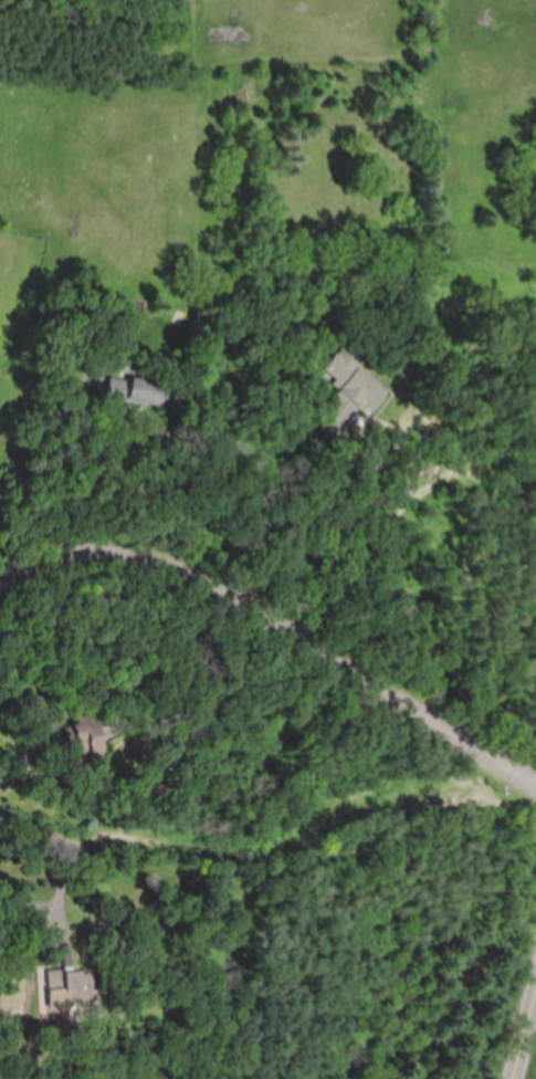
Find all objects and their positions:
building: (135, 390)
building: (347, 402)
road: (22, 454)
road: (365, 532)
road: (281, 625)
building: (85, 727)
road: (60, 856)
building: (69, 982)
road: (528, 1049)

